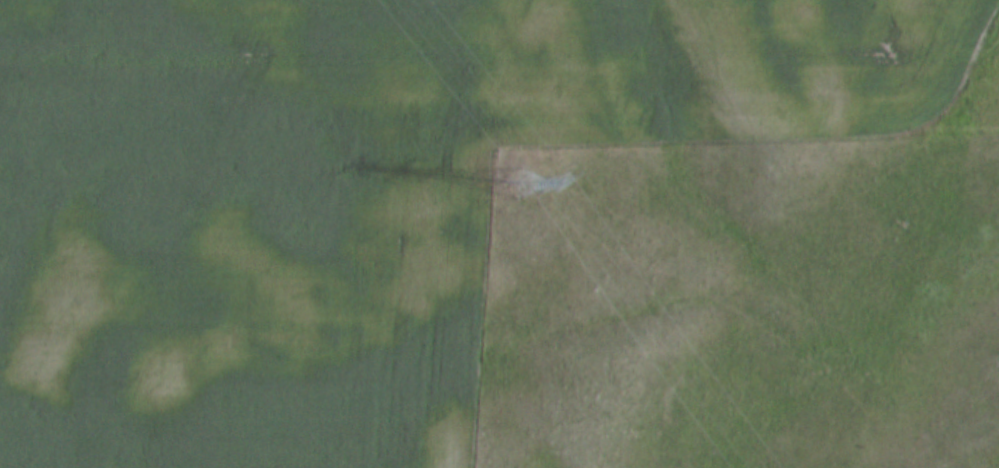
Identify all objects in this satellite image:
power tower: (511, 182)

